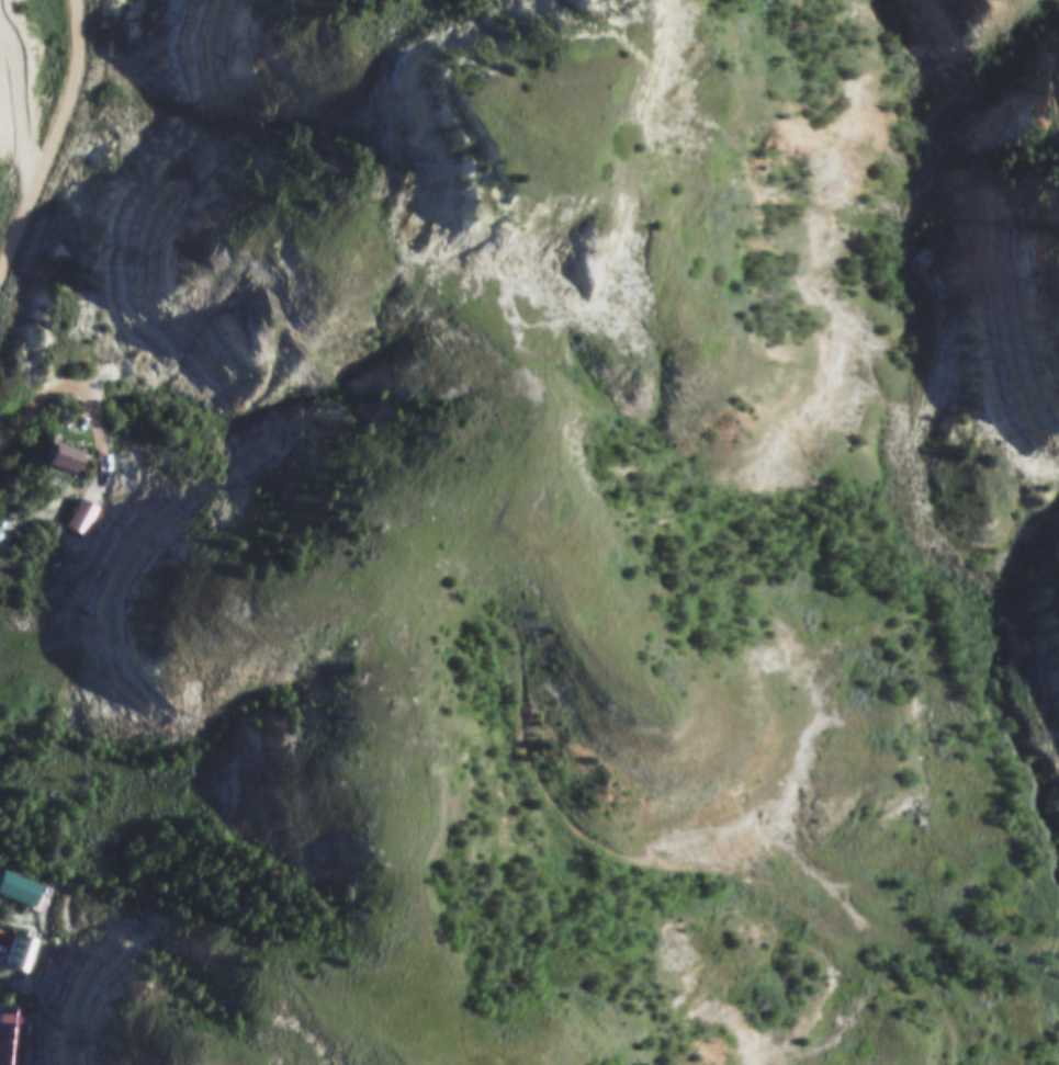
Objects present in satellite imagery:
road: (60, 151)
road: (77, 386)
building: (59, 458)
road: (408, 732)
road: (611, 852)
building: (21, 893)
building: (12, 1046)

